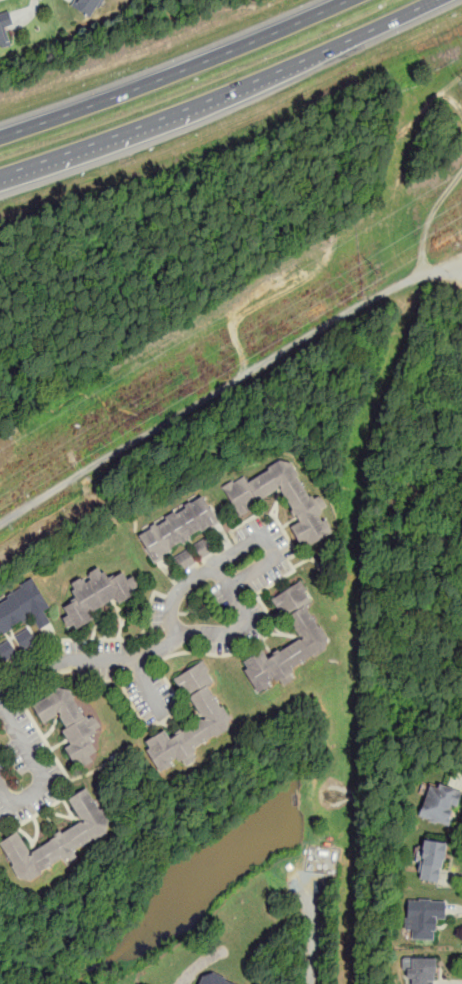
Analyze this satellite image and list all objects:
building: (87, 6)
road: (401, 14)
building: (4, 28)
road: (175, 71)
road: (187, 106)
road: (409, 121)
road: (339, 147)
road: (184, 257)
road: (188, 289)
road: (170, 420)
road: (403, 482)
building: (306, 503)
building: (177, 527)
building: (204, 547)
road: (271, 553)
building: (184, 560)
building: (96, 594)
building: (22, 607)
road: (411, 614)
building: (301, 622)
building: (25, 638)
building: (7, 650)
road: (86, 659)
road: (148, 688)
building: (204, 703)
building: (70, 723)
road: (38, 771)
building: (439, 803)
building: (58, 839)
building: (431, 860)
building: (422, 916)
building: (419, 969)
building: (213, 979)
building: (253, 983)

